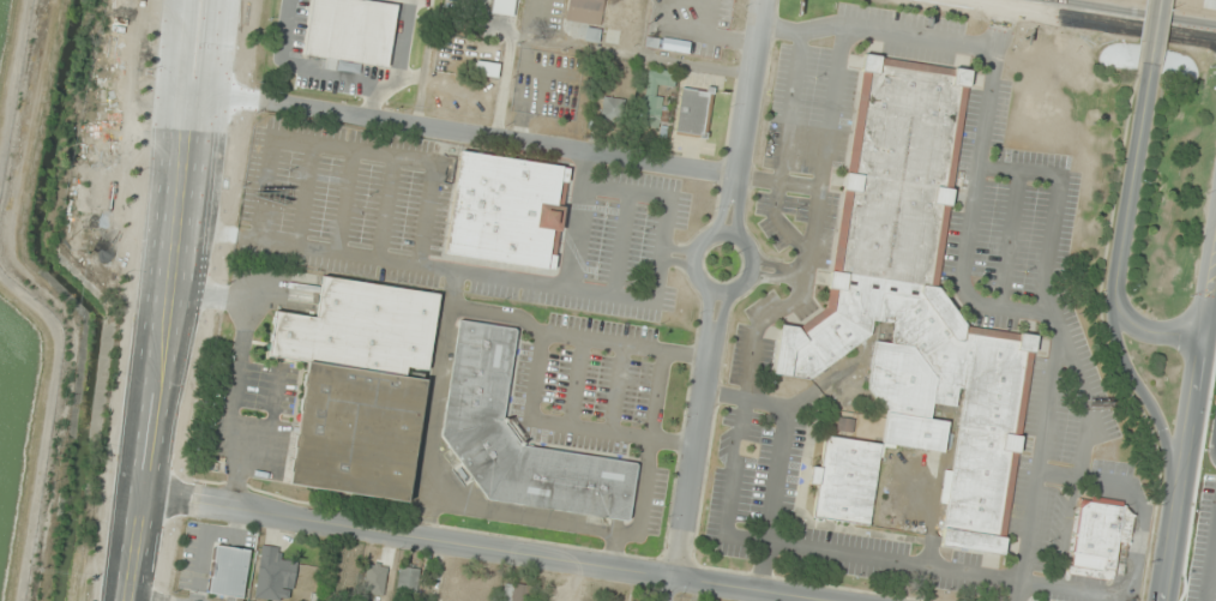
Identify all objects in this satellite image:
road: (1048, 5)
building: (502, 7)
building: (586, 11)
road: (1108, 16)
building: (351, 31)
road: (1154, 32)
wastewater plant: (5, 34)
building: (487, 70)
road: (746, 91)
building: (655, 97)
building: (613, 110)
building: (693, 112)
road: (463, 134)
building: (499, 206)
road: (722, 209)
road: (736, 210)
road: (1119, 232)
road: (709, 287)
building: (916, 298)
road: (167, 300)
road: (705, 309)
road: (720, 312)
building: (359, 326)
road: (1154, 411)
road: (1187, 420)
wastewater plant: (14, 429)
building: (355, 431)
building: (519, 438)
road: (1215, 449)
road: (692, 457)
building: (843, 475)
building: (1098, 537)
road: (468, 547)
road: (1209, 557)
building: (275, 569)
building: (229, 572)
building: (378, 575)
building: (408, 579)
road: (673, 590)
building: (518, 593)
road: (171, 599)

